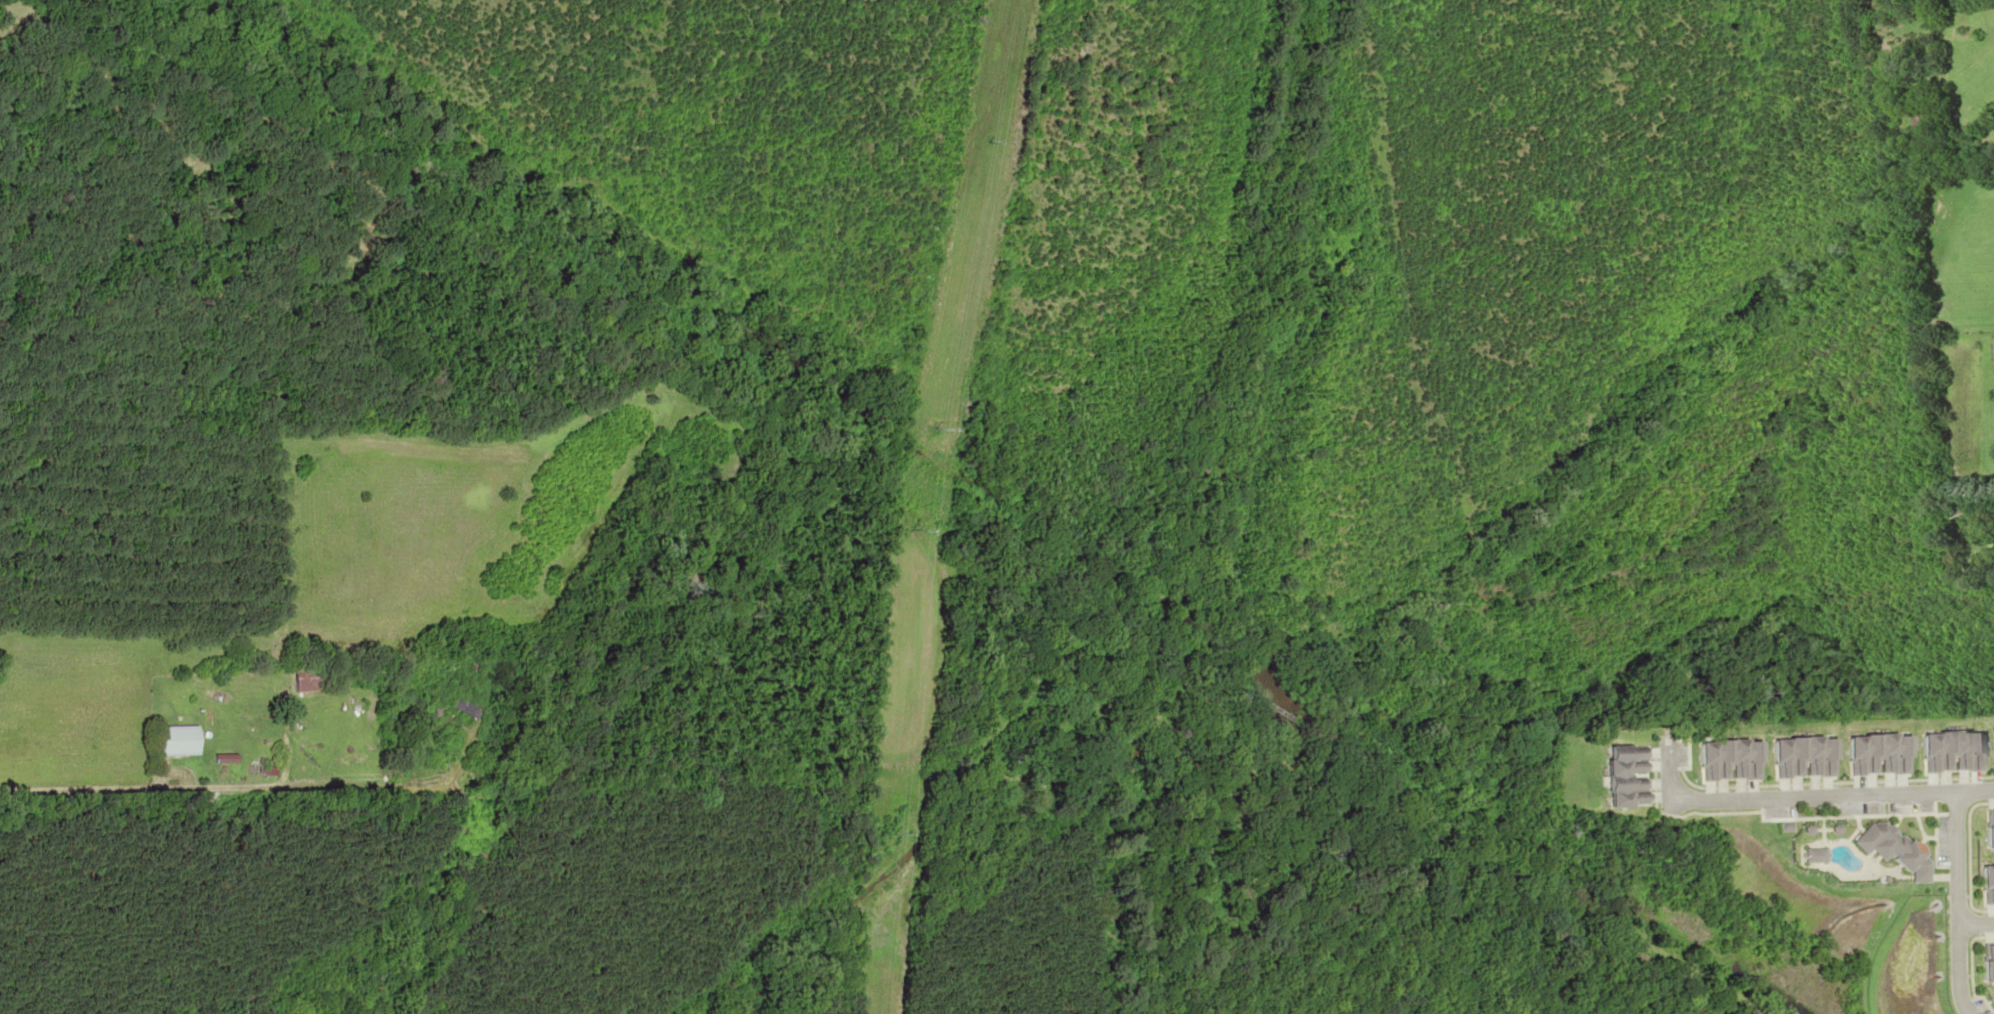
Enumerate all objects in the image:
building: (1925, 54)
building: (1993, 128)
building: (495, 664)
building: (307, 678)
building: (466, 706)
building: (177, 740)
building: (1993, 742)
building: (1950, 751)
building: (1875, 754)
building: (1801, 757)
building: (1726, 759)
building: (1622, 776)
road: (1807, 794)
building: (1990, 831)
building: (1893, 849)
road: (1960, 859)
building: (1988, 882)
road: (1978, 927)
road: (1879, 954)
building: (1988, 963)
road: (1964, 972)
road: (1965, 1006)

